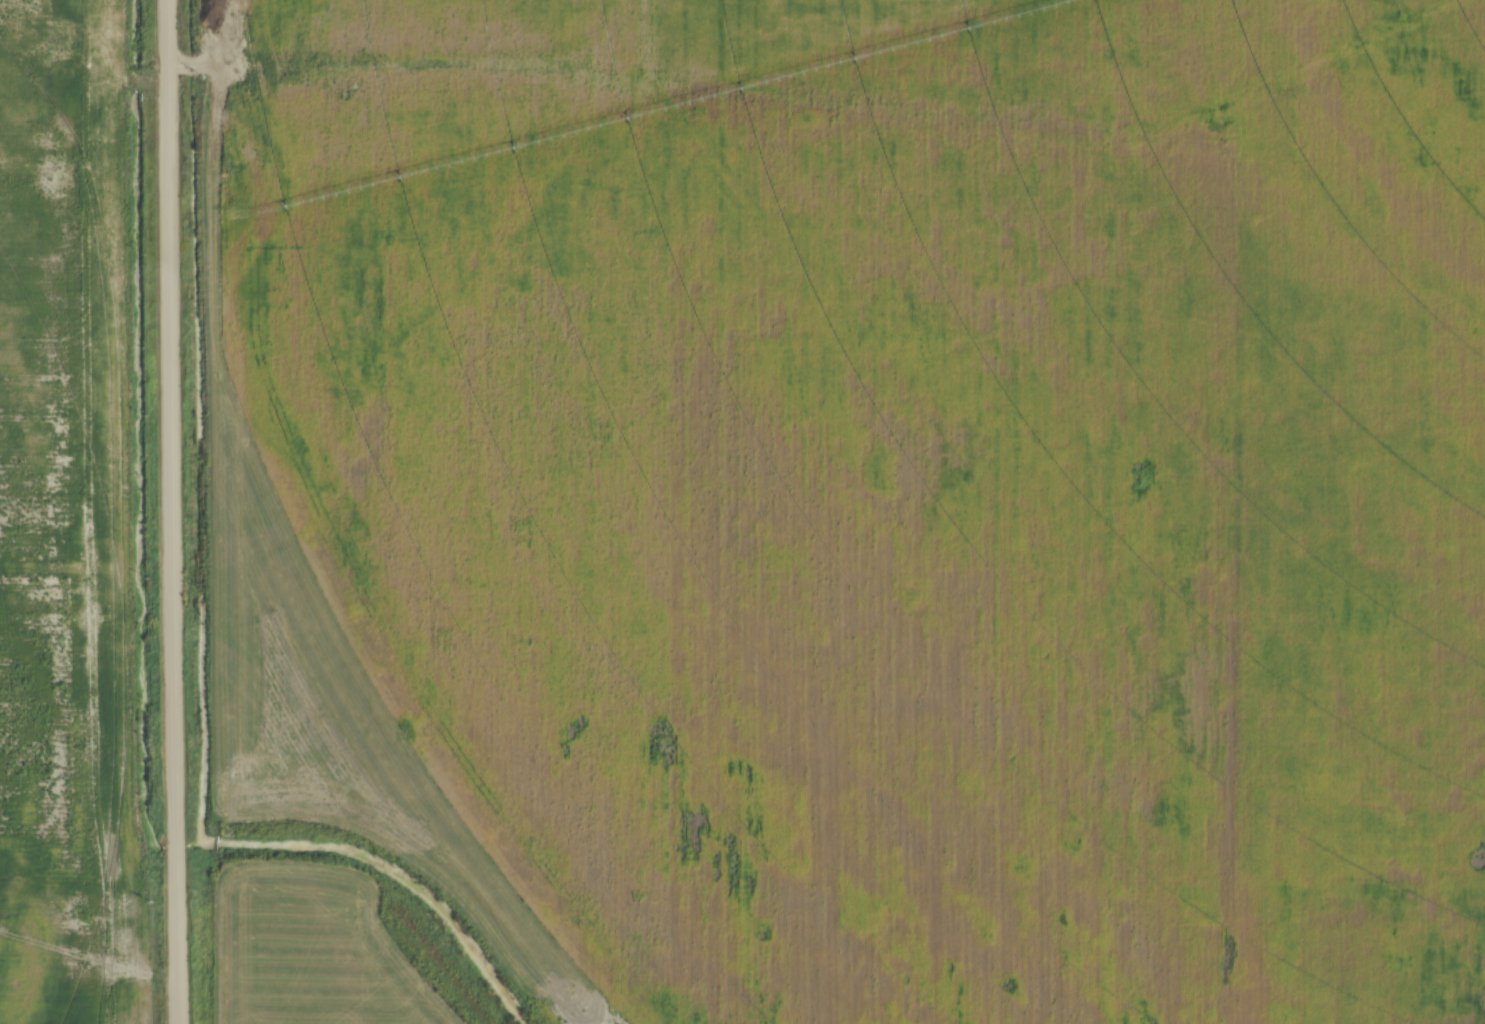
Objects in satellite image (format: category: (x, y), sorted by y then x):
building: (616, 63)
road: (172, 512)

